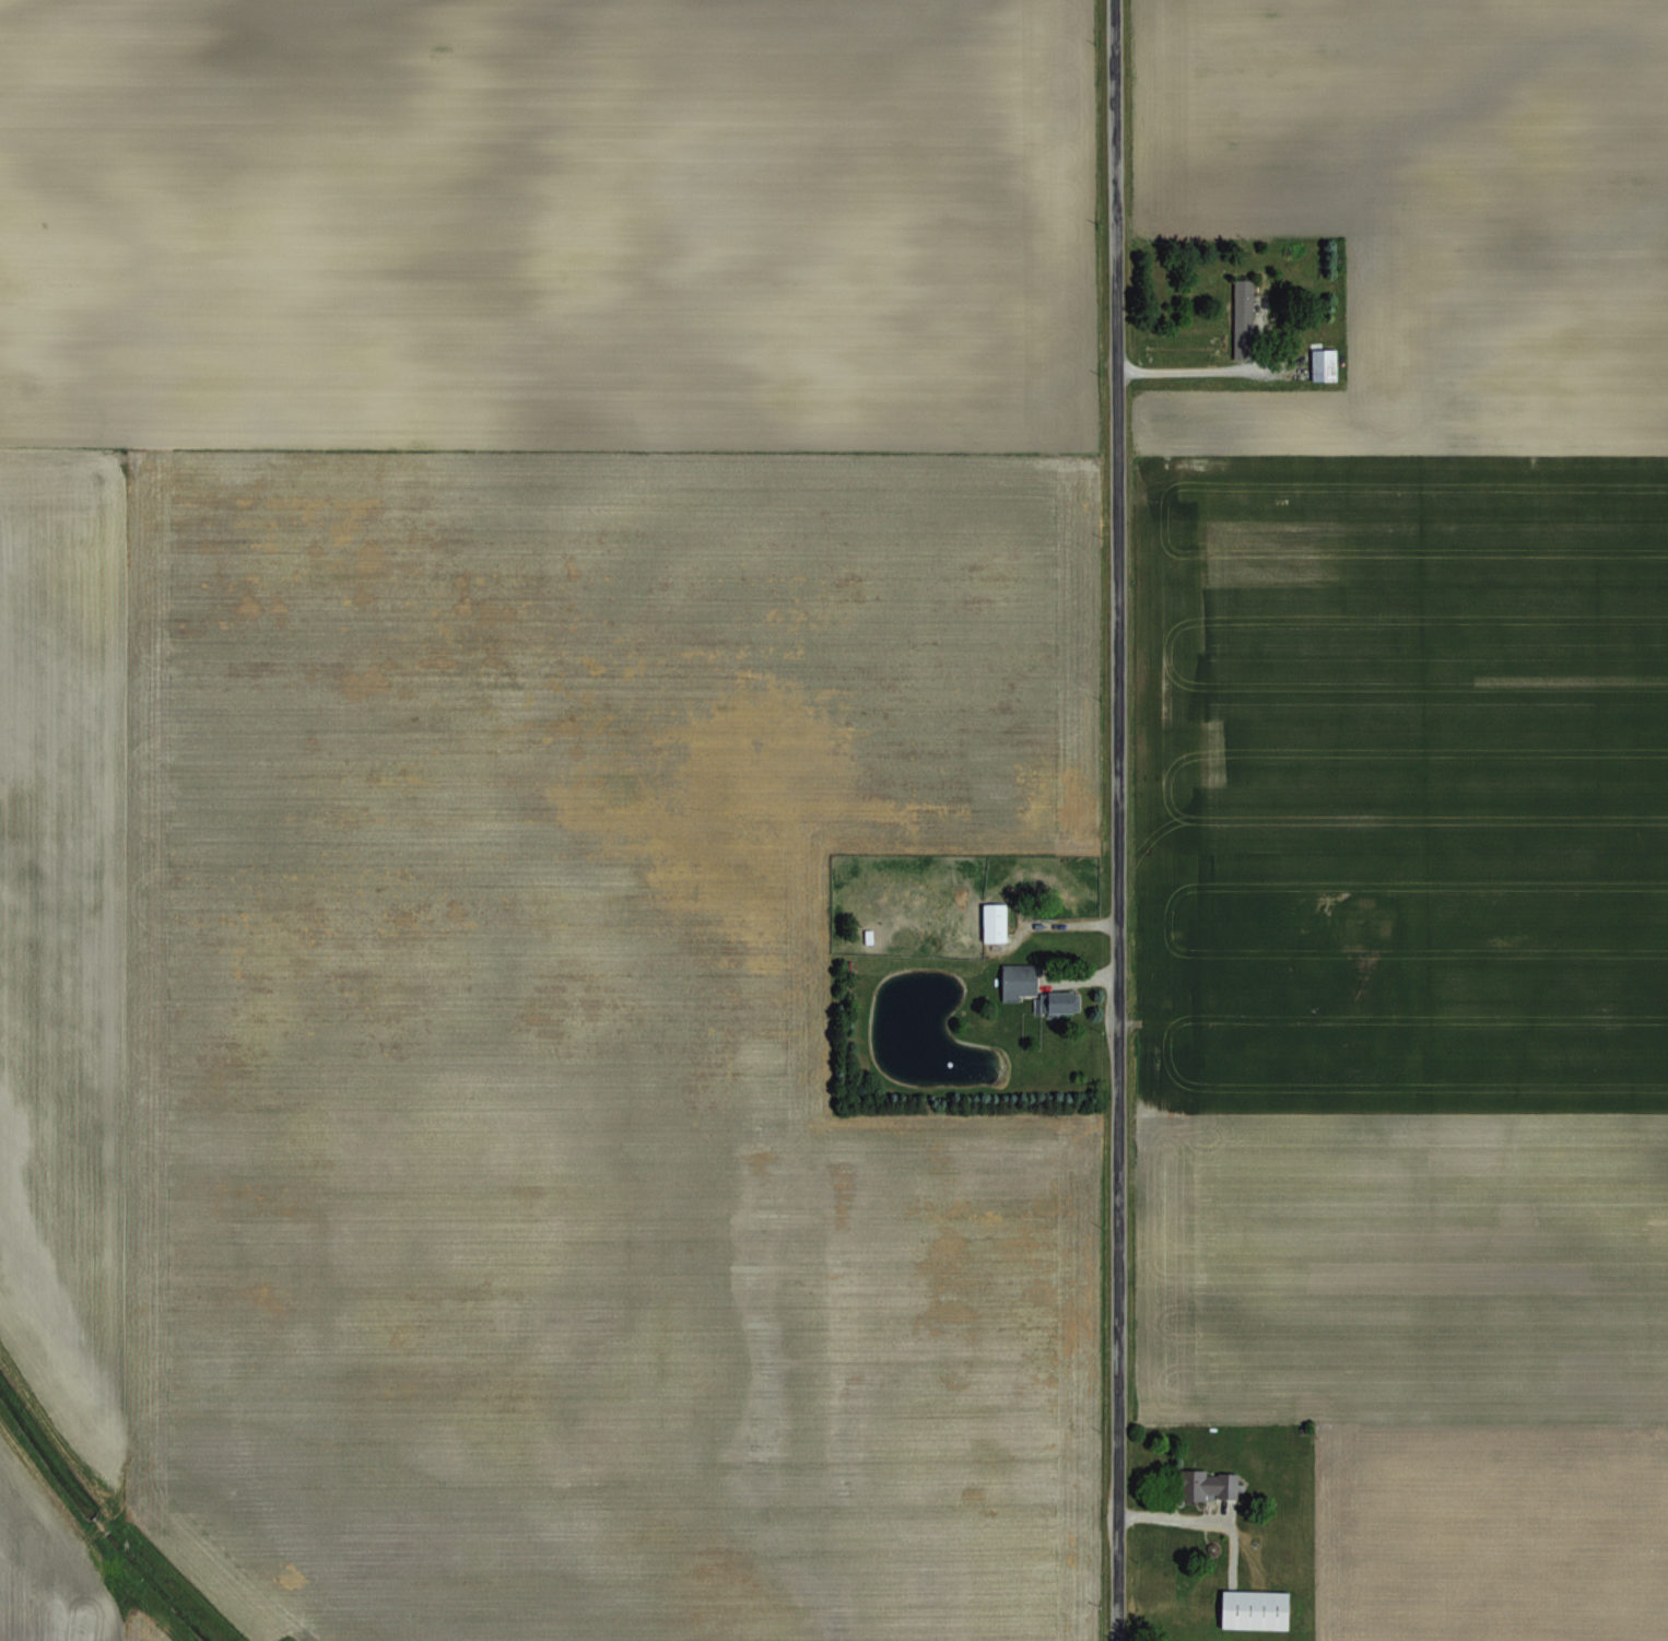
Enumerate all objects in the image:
building: (1244, 314)
building: (1323, 362)
road: (1189, 366)
road: (1113, 820)
building: (994, 919)
building: (1018, 976)
building: (1208, 1482)
building: (1255, 1607)

